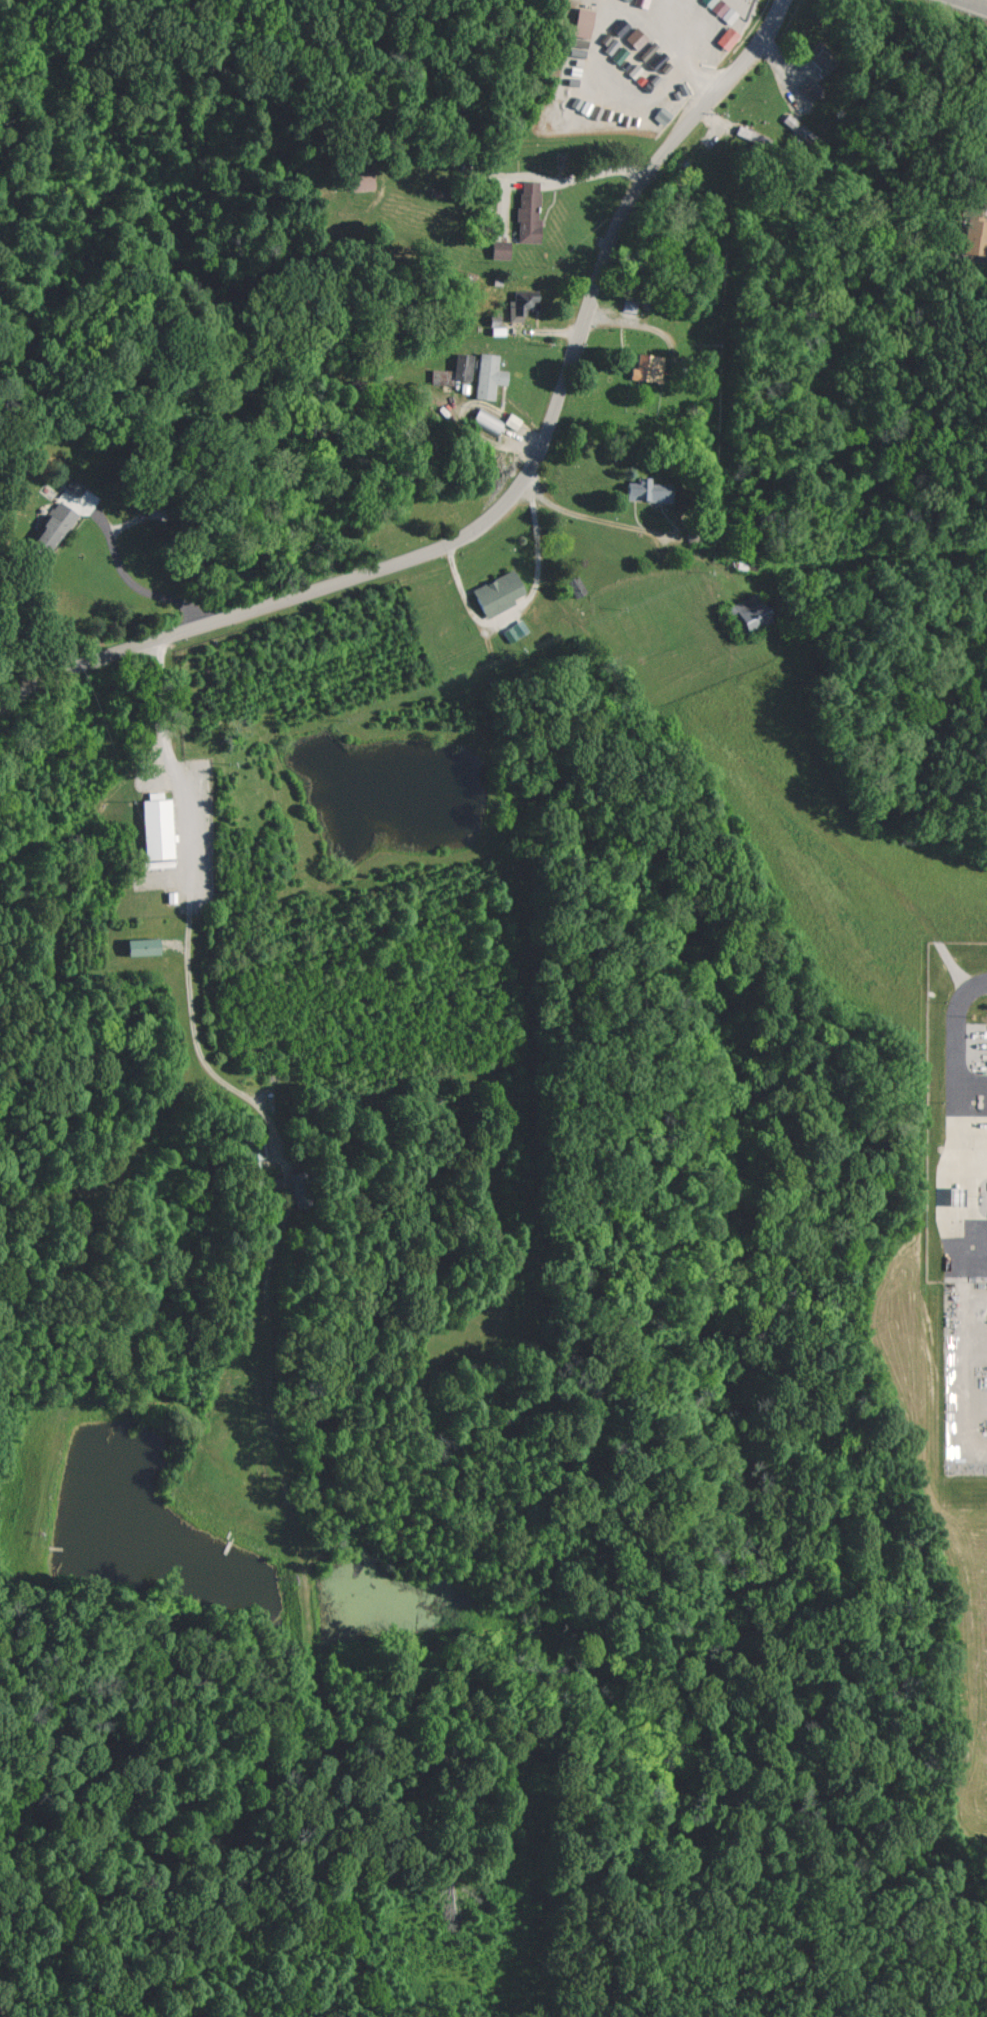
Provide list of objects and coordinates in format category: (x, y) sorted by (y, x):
road: (984, 0)
building: (721, 7)
building: (584, 22)
building: (728, 38)
building: (823, 59)
building: (812, 89)
building: (662, 115)
building: (530, 211)
building: (976, 235)
building: (502, 249)
building: (528, 300)
building: (630, 305)
building: (463, 366)
building: (649, 368)
building: (490, 376)
building: (489, 422)
road: (512, 486)
building: (650, 491)
road: (592, 520)
building: (55, 527)
road: (127, 571)
building: (500, 593)
building: (752, 611)
building: (516, 630)
building: (159, 826)
road: (192, 909)
building: (145, 945)
road: (953, 1022)
building: (254, 1148)
road: (943, 1185)
building: (301, 1189)

